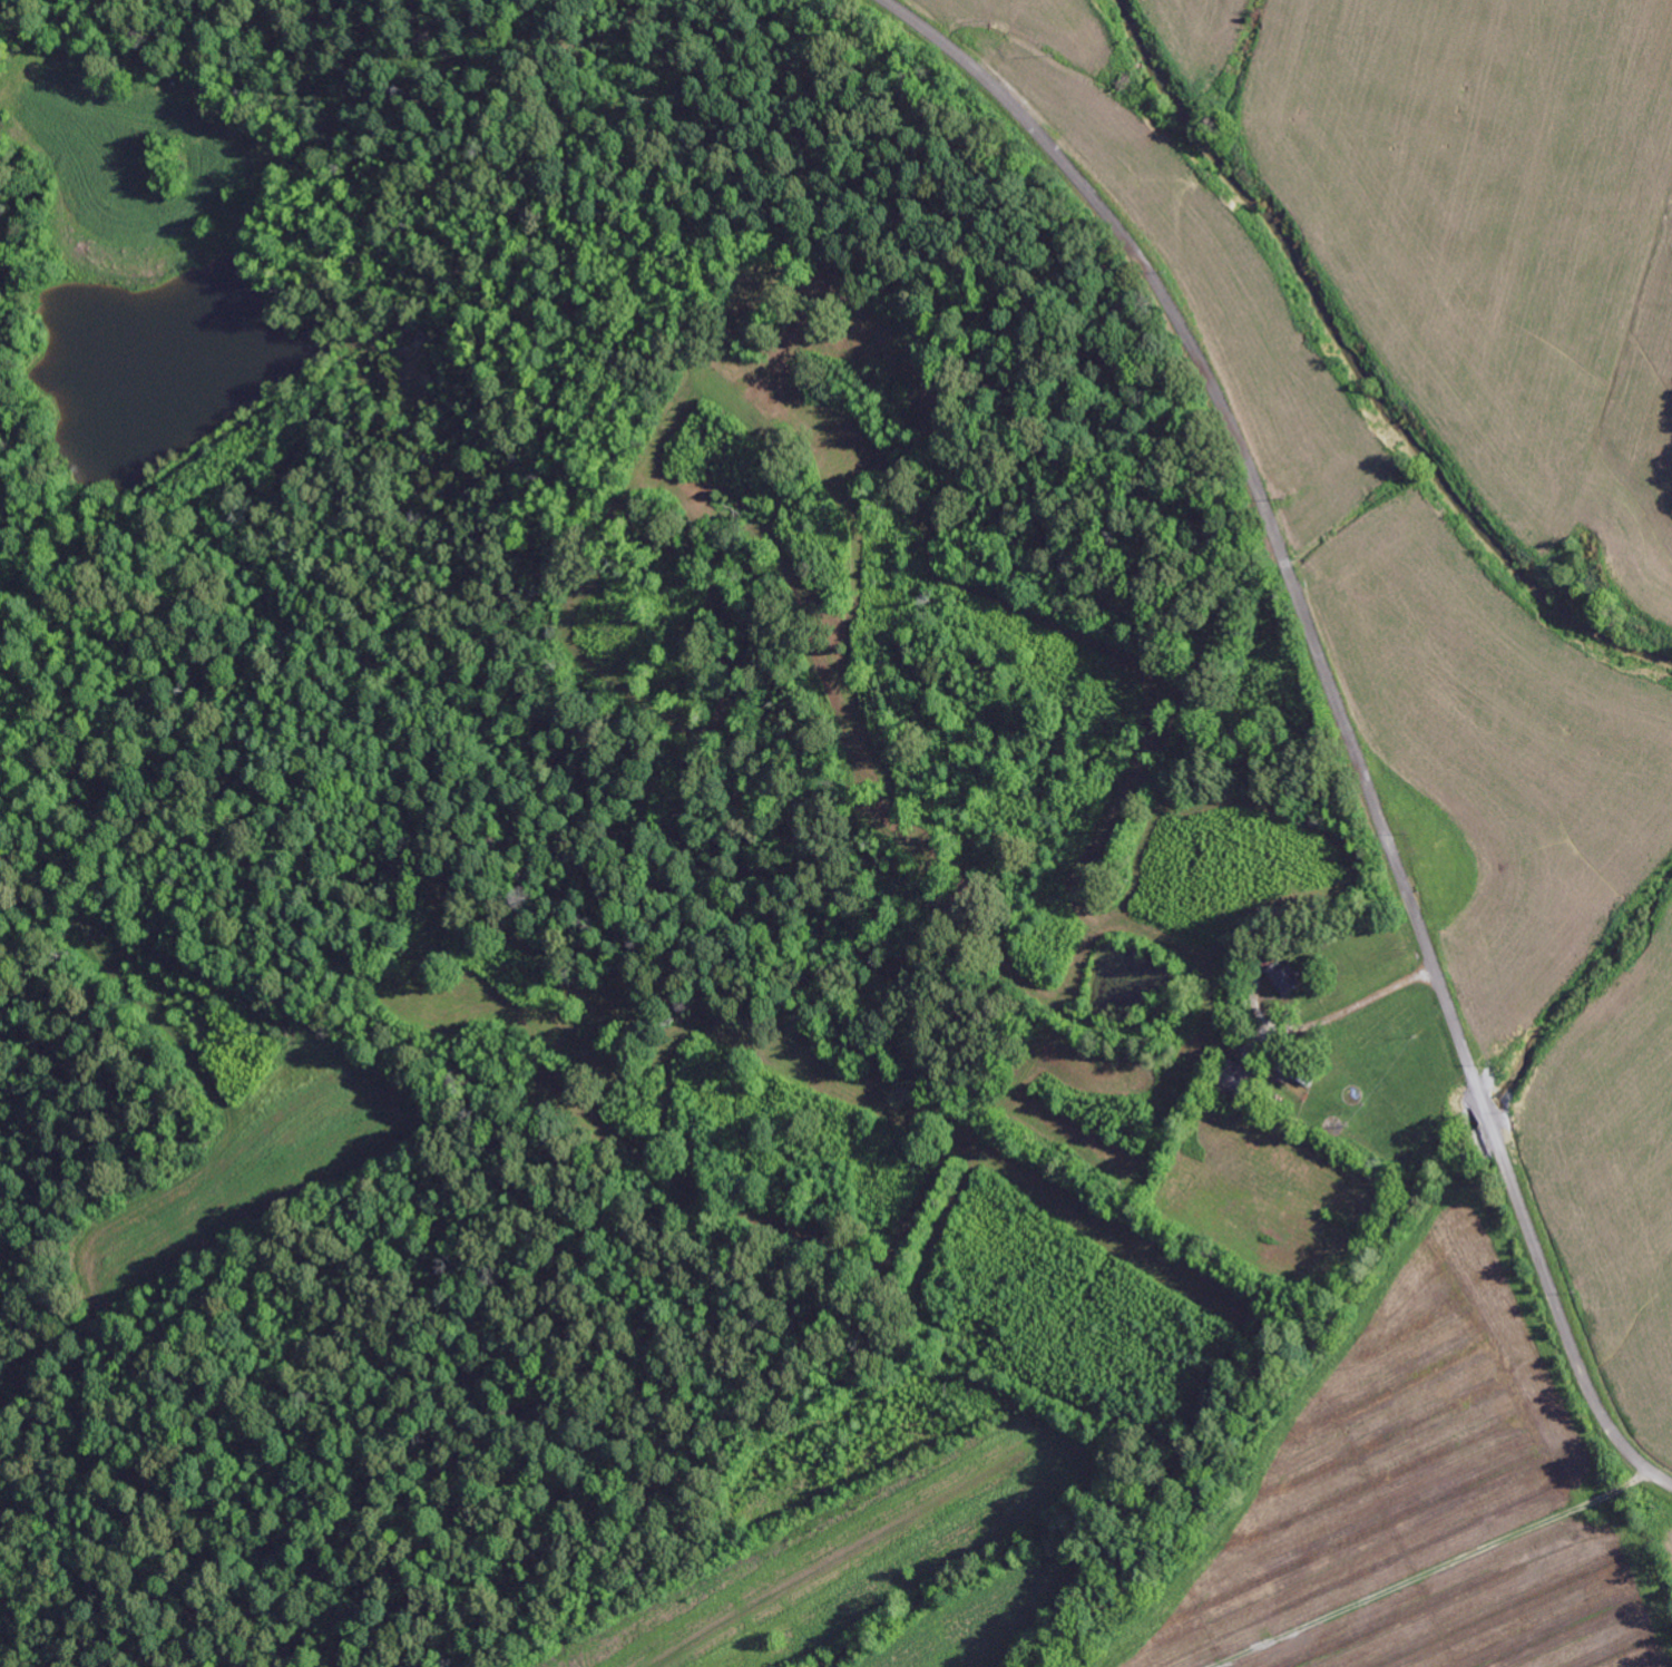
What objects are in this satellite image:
road: (1337, 705)
building: (1284, 977)

